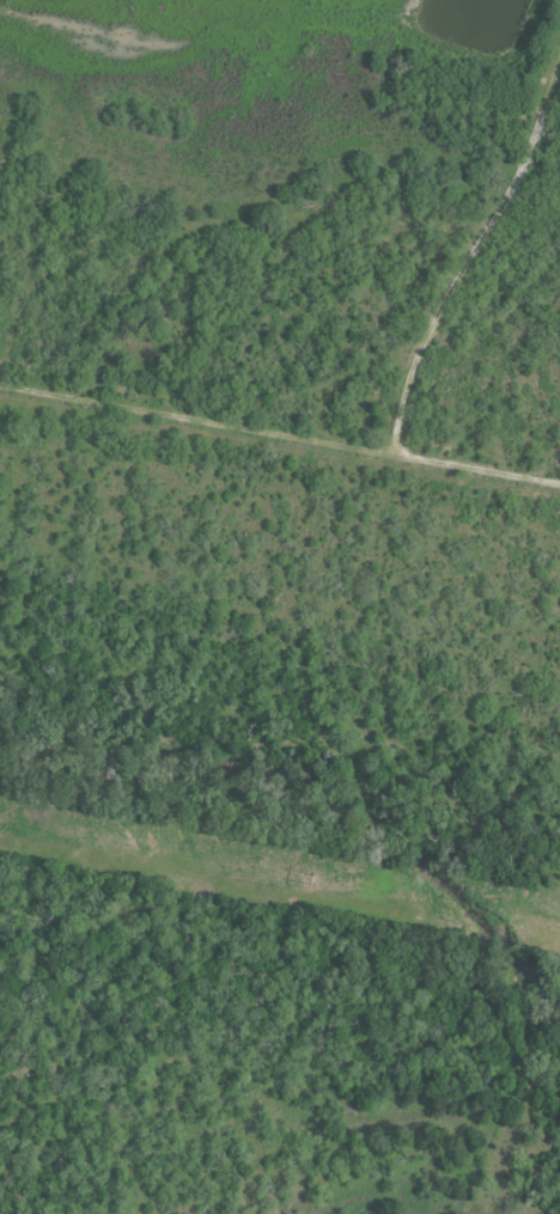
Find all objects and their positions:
power tower: (311, 881)

